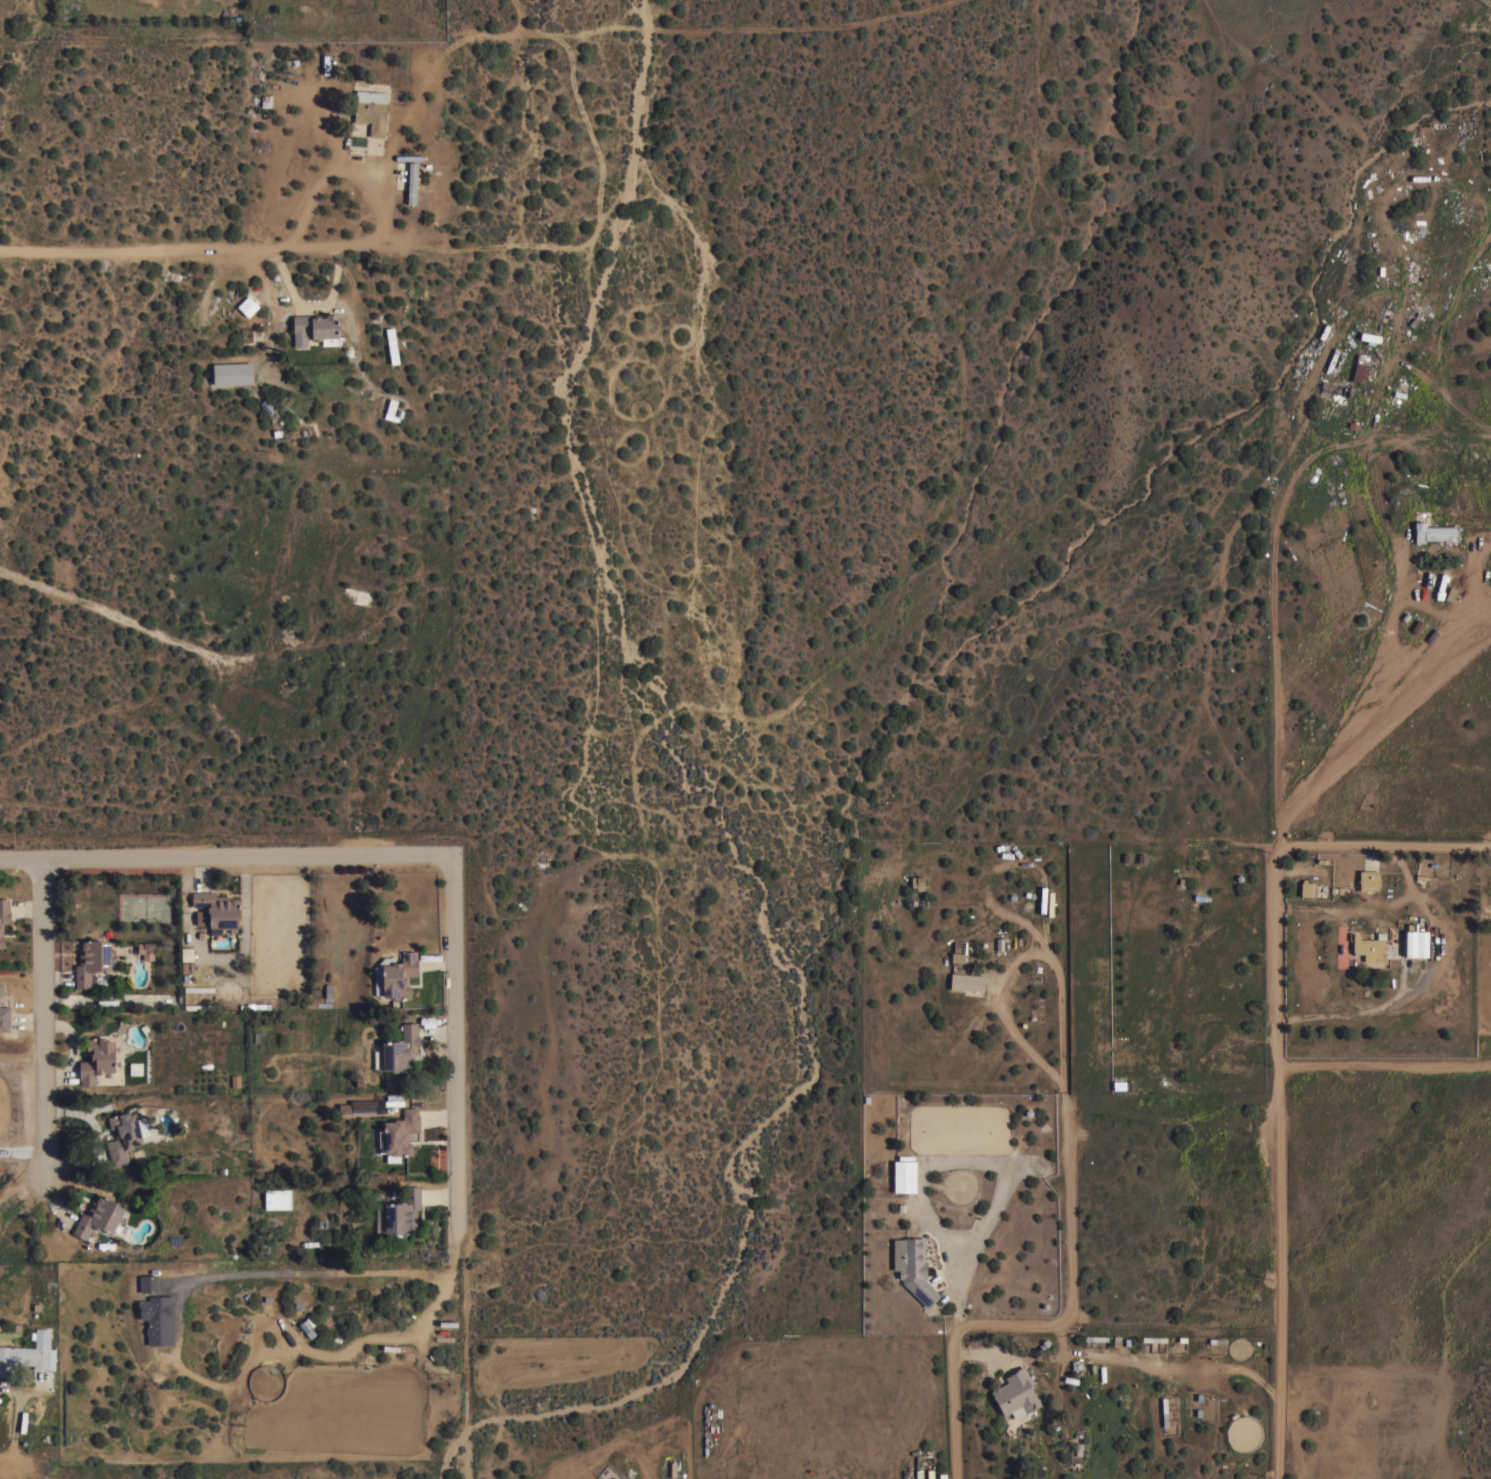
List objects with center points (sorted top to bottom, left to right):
building: (371, 110)
building: (408, 157)
road: (337, 162)
building: (401, 183)
building: (412, 183)
road: (193, 245)
building: (248, 306)
building: (1375, 312)
building: (316, 328)
building: (391, 346)
building: (1343, 361)
building: (1360, 370)
building: (232, 373)
building: (1330, 387)
building: (268, 407)
building: (393, 410)
building: (1433, 532)
road: (1385, 844)
road: (225, 852)
building: (1368, 880)
building: (917, 882)
building: (1307, 888)
building: (216, 911)
building: (3, 917)
building: (1421, 944)
building: (1370, 947)
building: (146, 949)
building: (187, 954)
road: (1028, 955)
building: (957, 957)
building: (92, 961)
building: (399, 976)
building: (967, 983)
building: (199, 988)
building: (1, 989)
building: (255, 1005)
building: (199, 1006)
road: (1280, 1006)
road: (44, 1013)
building: (4, 1018)
building: (400, 1049)
road: (452, 1052)
road: (1386, 1057)
building: (97, 1060)
building: (135, 1069)
building: (358, 1105)
building: (399, 1134)
building: (123, 1136)
building: (904, 1176)
building: (277, 1198)
building: (402, 1212)
building: (99, 1216)
building: (913, 1267)
road: (328, 1271)
building: (148, 1283)
building: (158, 1319)
building: (306, 1324)
road: (1047, 1325)
building: (28, 1353)
building: (1015, 1394)
building: (23, 1422)
road: (10, 1459)

